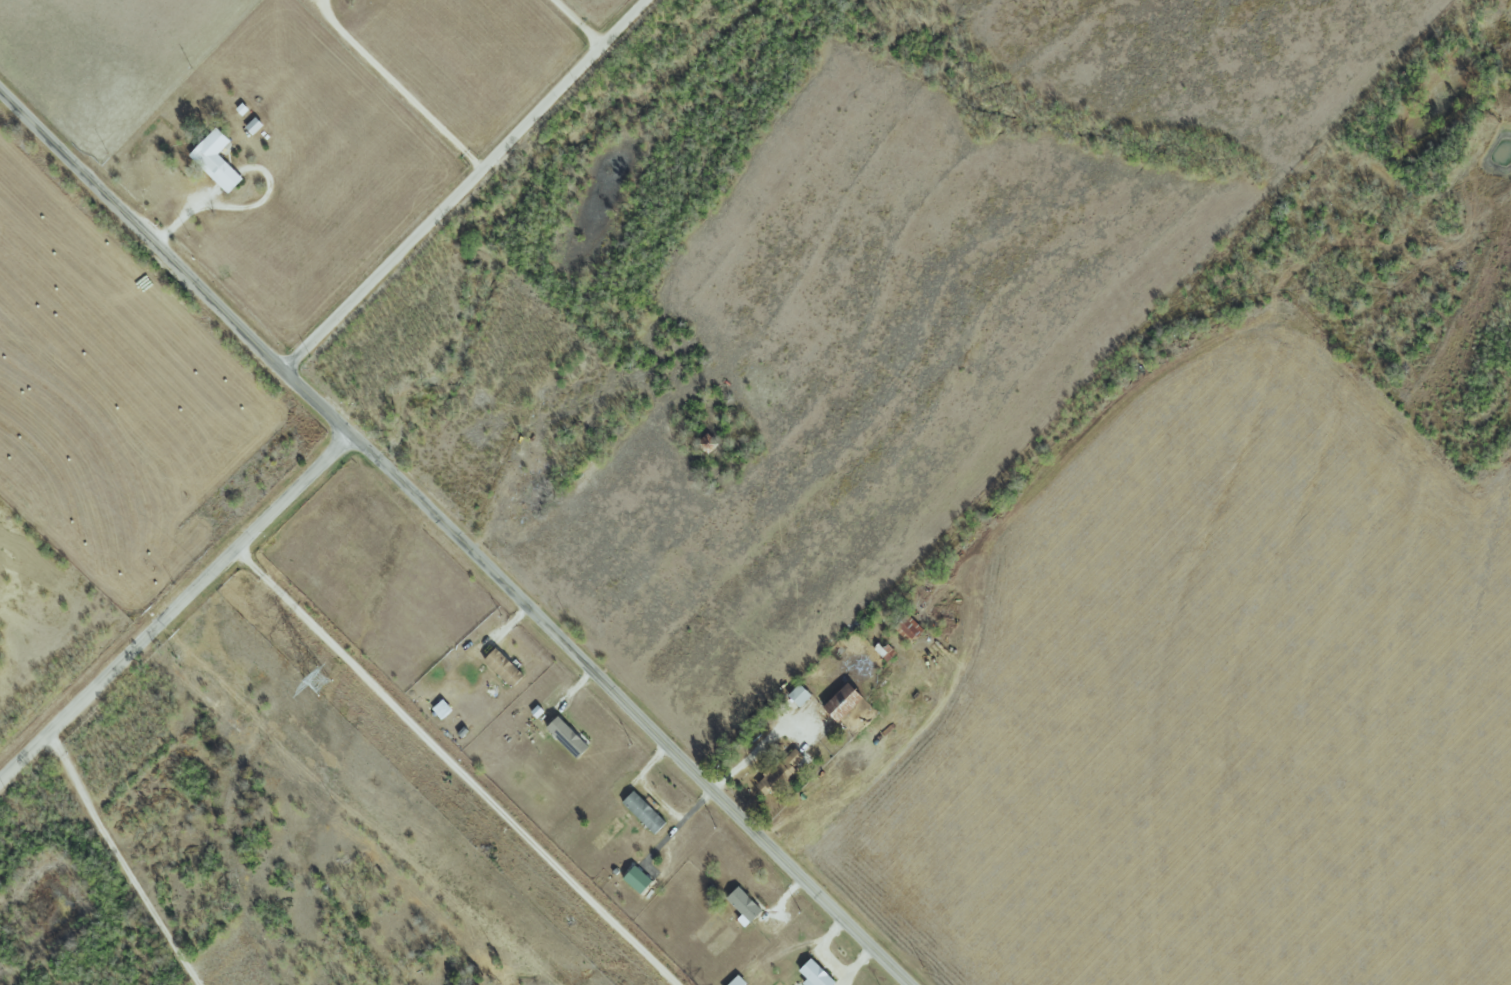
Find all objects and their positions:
road: (573, 25)
road: (397, 86)
building: (213, 161)
road: (465, 185)
road: (206, 197)
road: (229, 206)
road: (456, 536)
road: (175, 608)
building: (906, 628)
building: (882, 651)
building: (501, 666)
power tower: (316, 681)
building: (797, 694)
building: (839, 701)
building: (564, 736)
road: (750, 754)
road: (454, 766)
building: (778, 773)
building: (642, 811)
road: (118, 861)
building: (634, 879)
building: (741, 905)
building: (813, 974)

